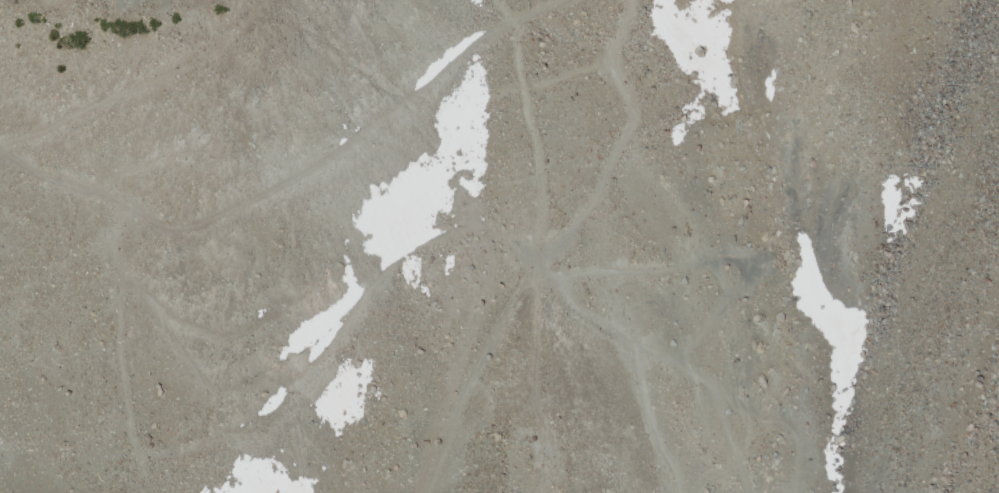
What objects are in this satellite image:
road: (291, 178)
road: (596, 274)

